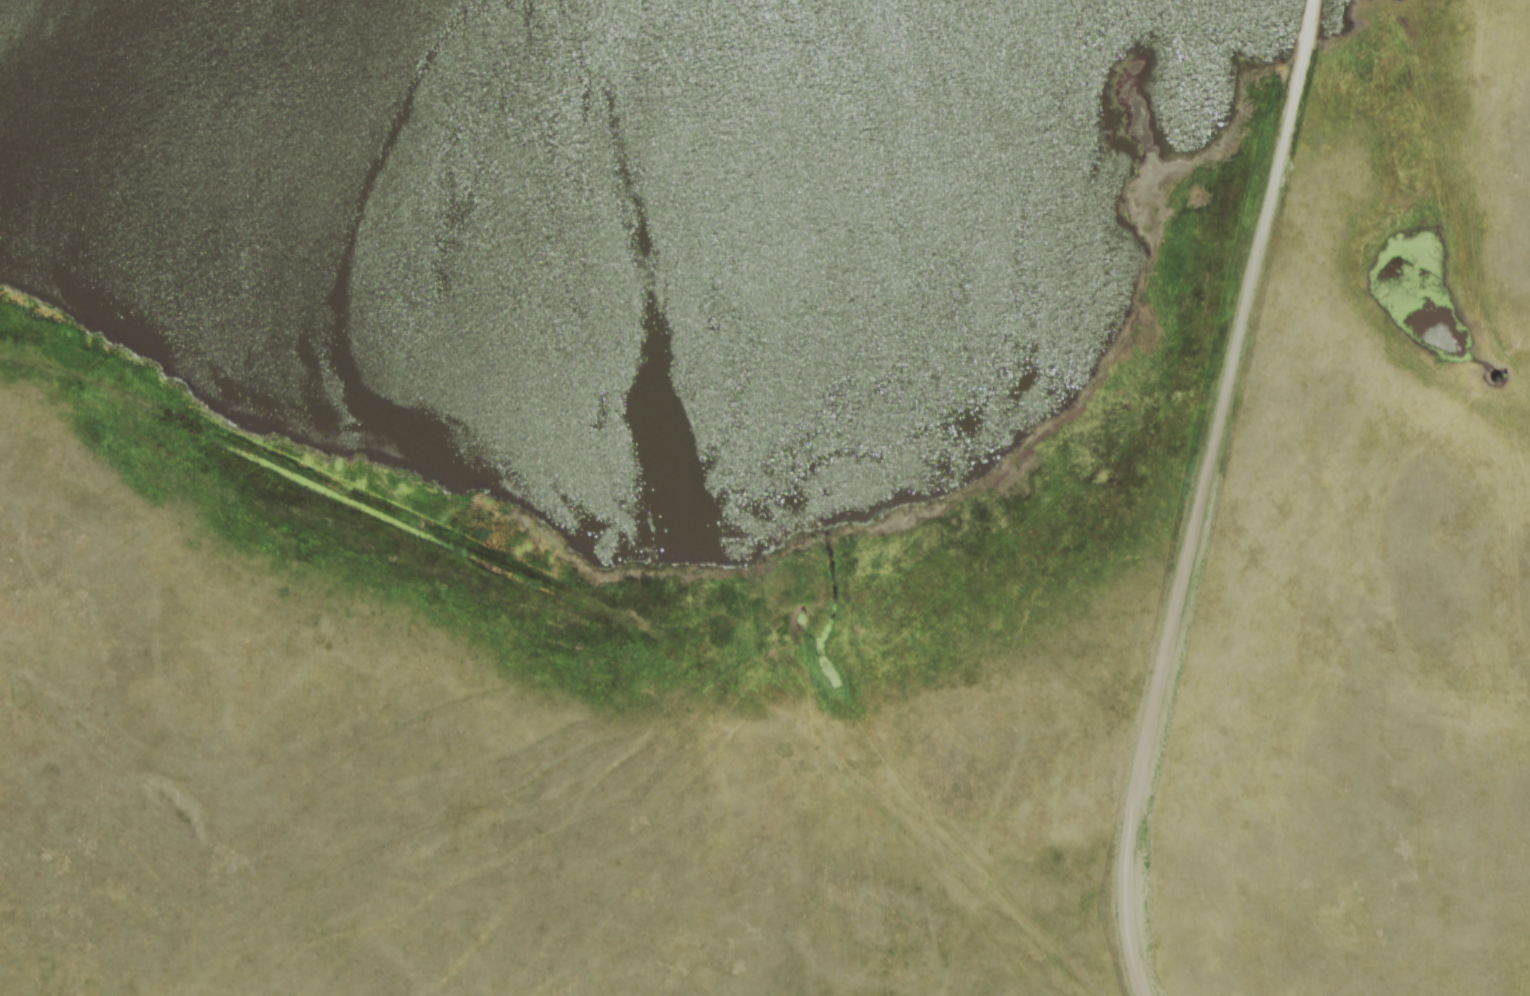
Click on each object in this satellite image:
road: (1197, 496)

